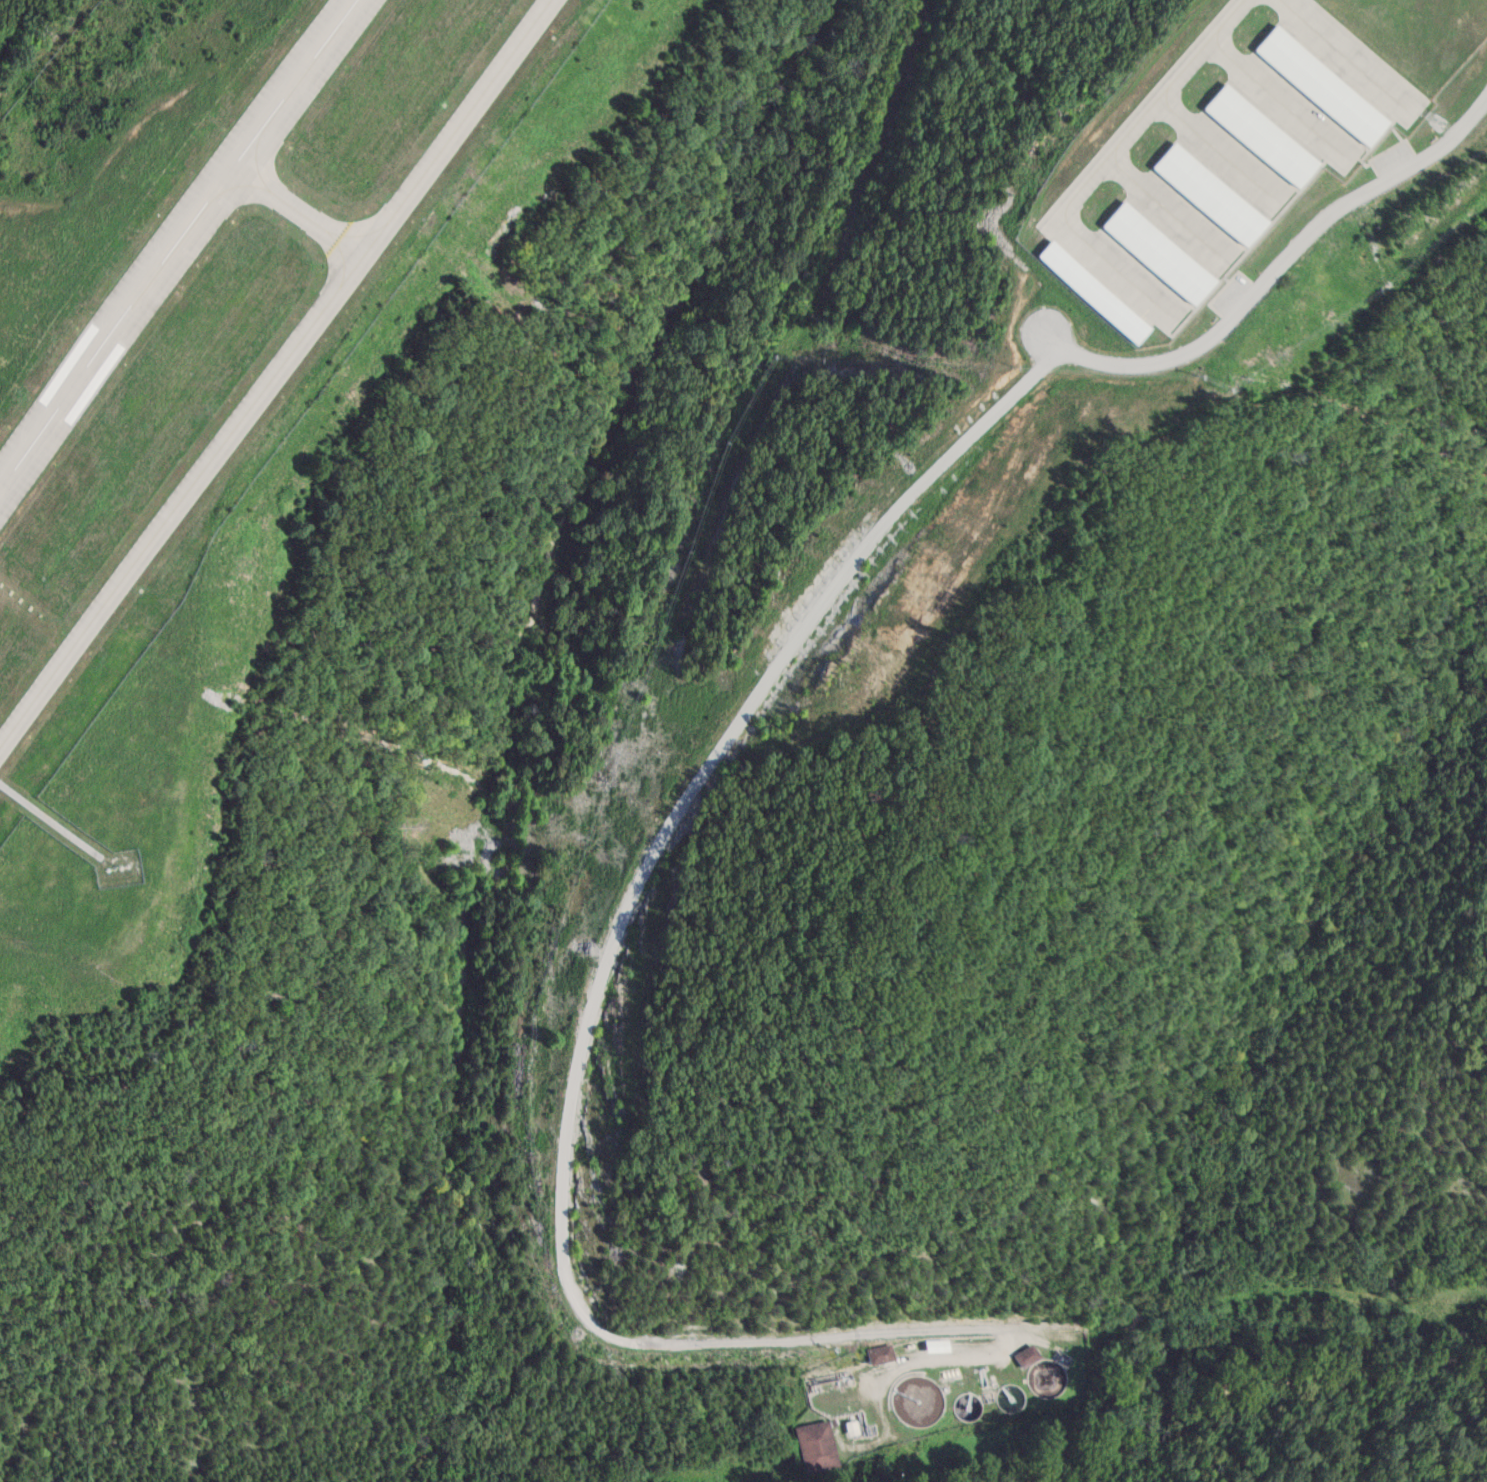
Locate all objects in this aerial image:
building: (1323, 85)
airport taxiway: (1141, 112)
building: (1262, 135)
building: (1211, 194)
airport taxiway: (300, 211)
airport runway: (181, 249)
building: (1160, 252)
building: (1094, 291)
airport taxiway: (272, 374)
road: (868, 540)
road: (777, 1339)
building: (813, 1445)

